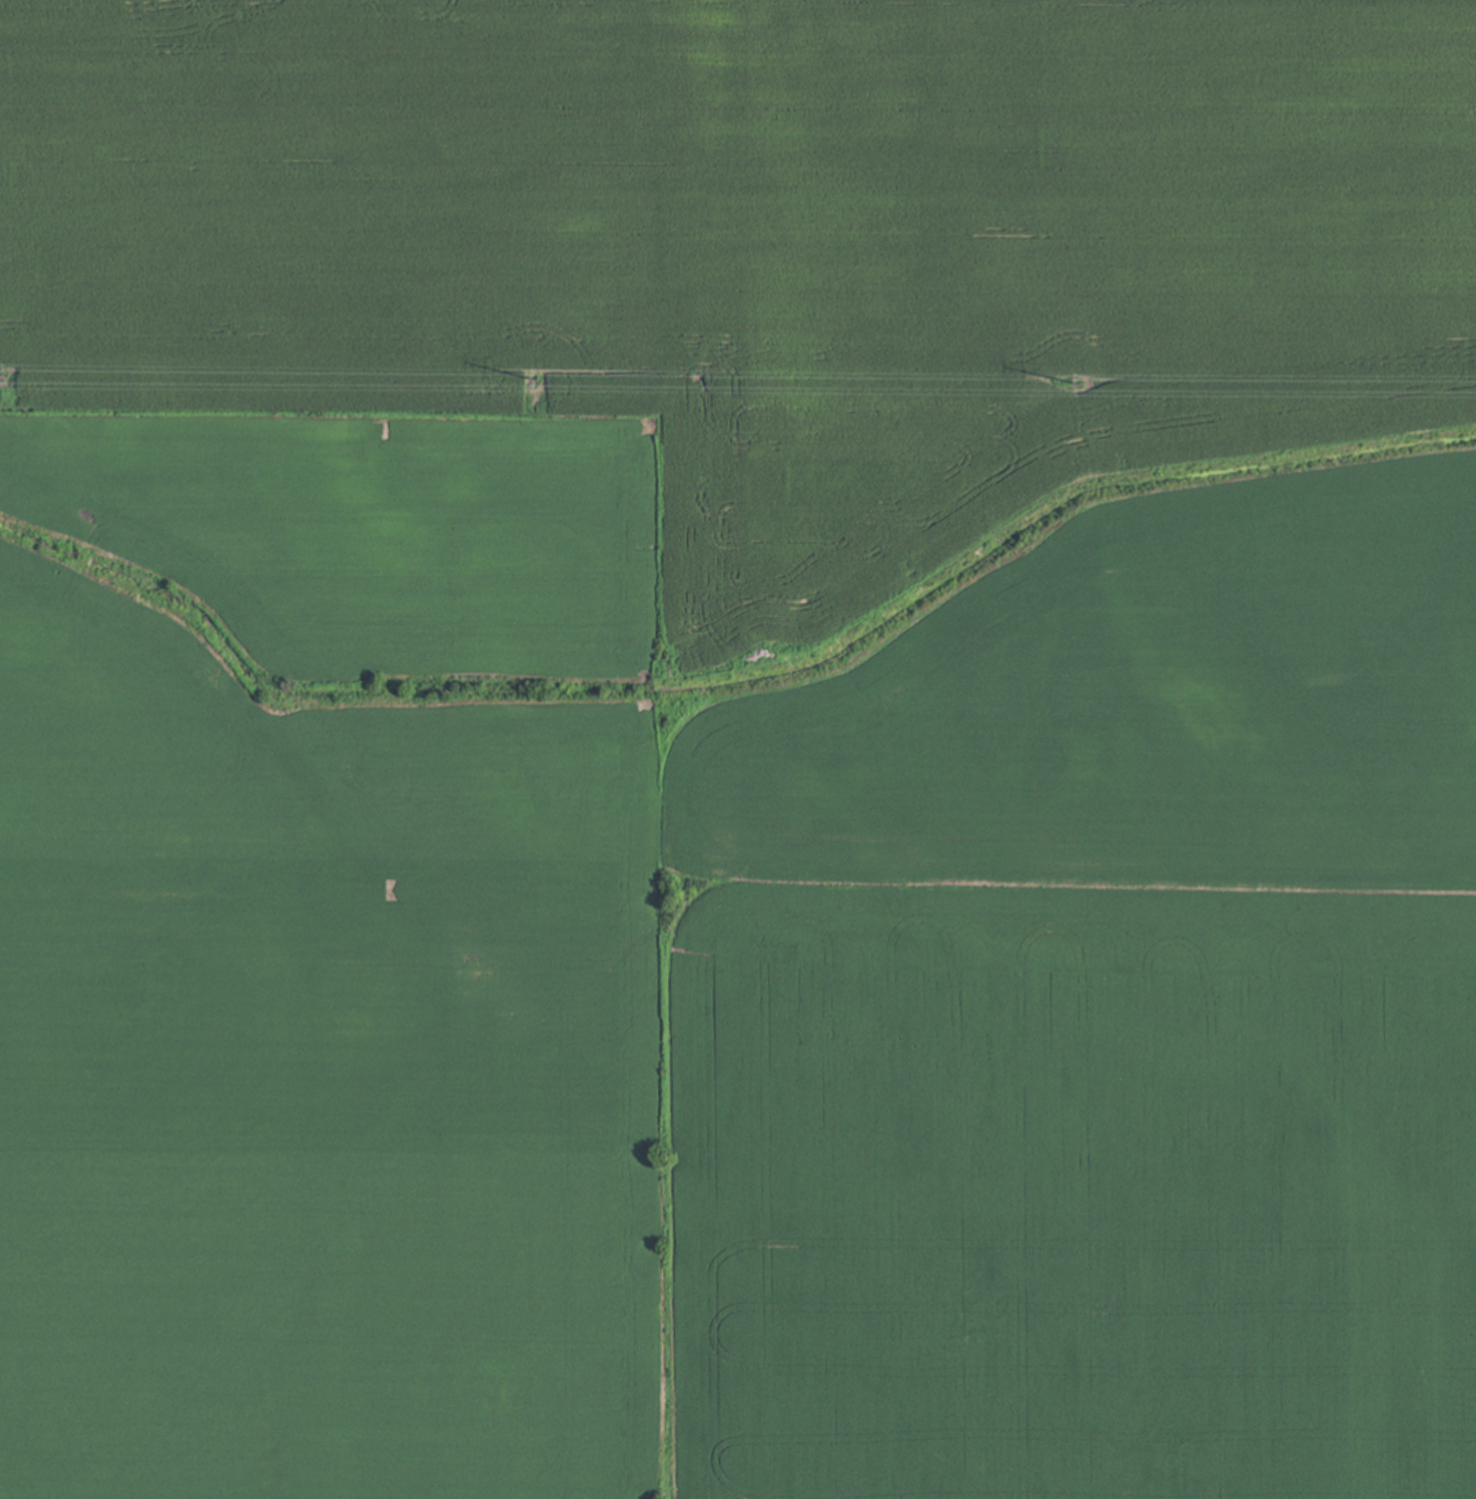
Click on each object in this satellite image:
power tower: (5, 380)
power tower: (1083, 387)

